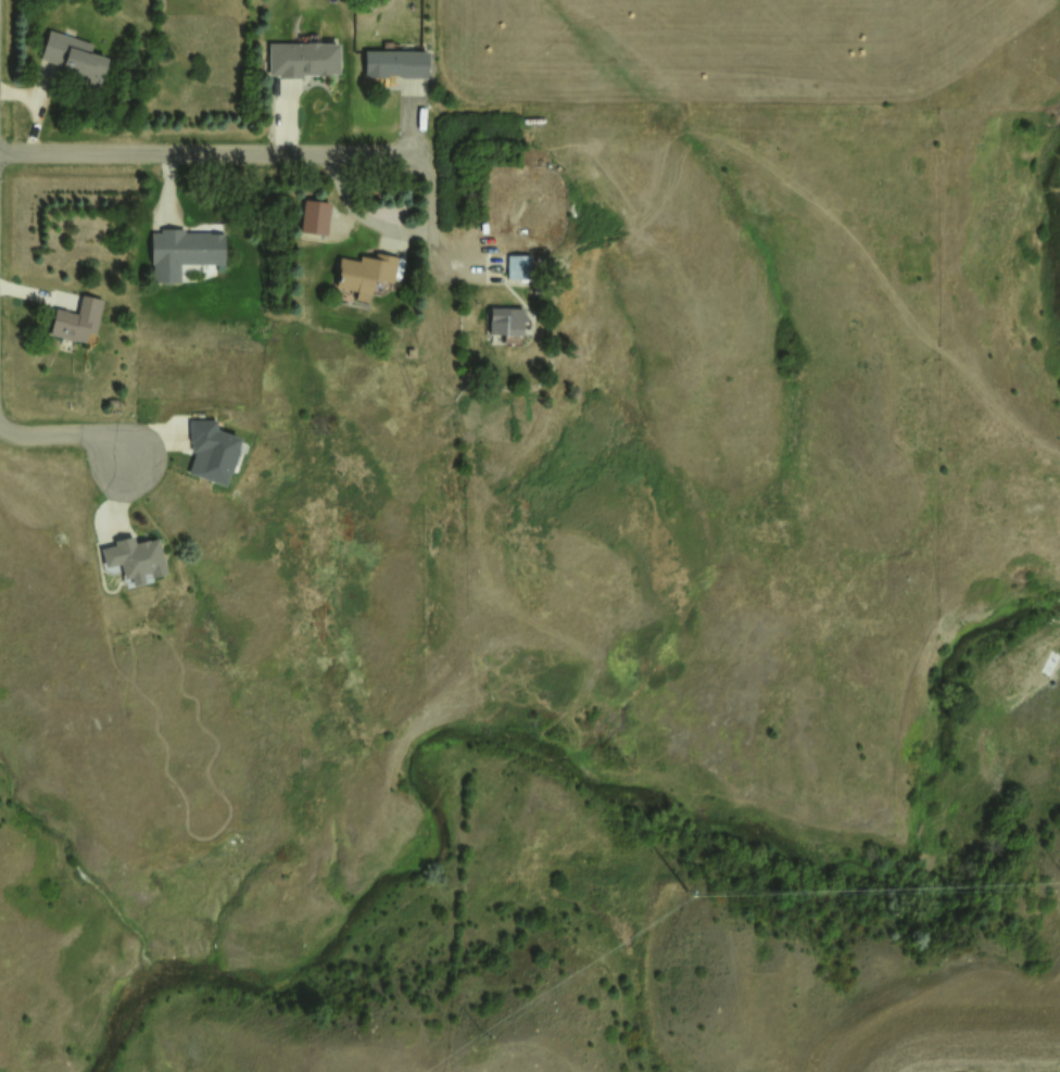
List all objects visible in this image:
building: (72, 55)
building: (302, 58)
building: (394, 63)
road: (205, 153)
building: (313, 216)
building: (180, 251)
building: (518, 265)
building: (363, 273)
building: (76, 318)
building: (505, 319)
building: (409, 351)
road: (66, 432)
building: (210, 450)
building: (134, 557)

